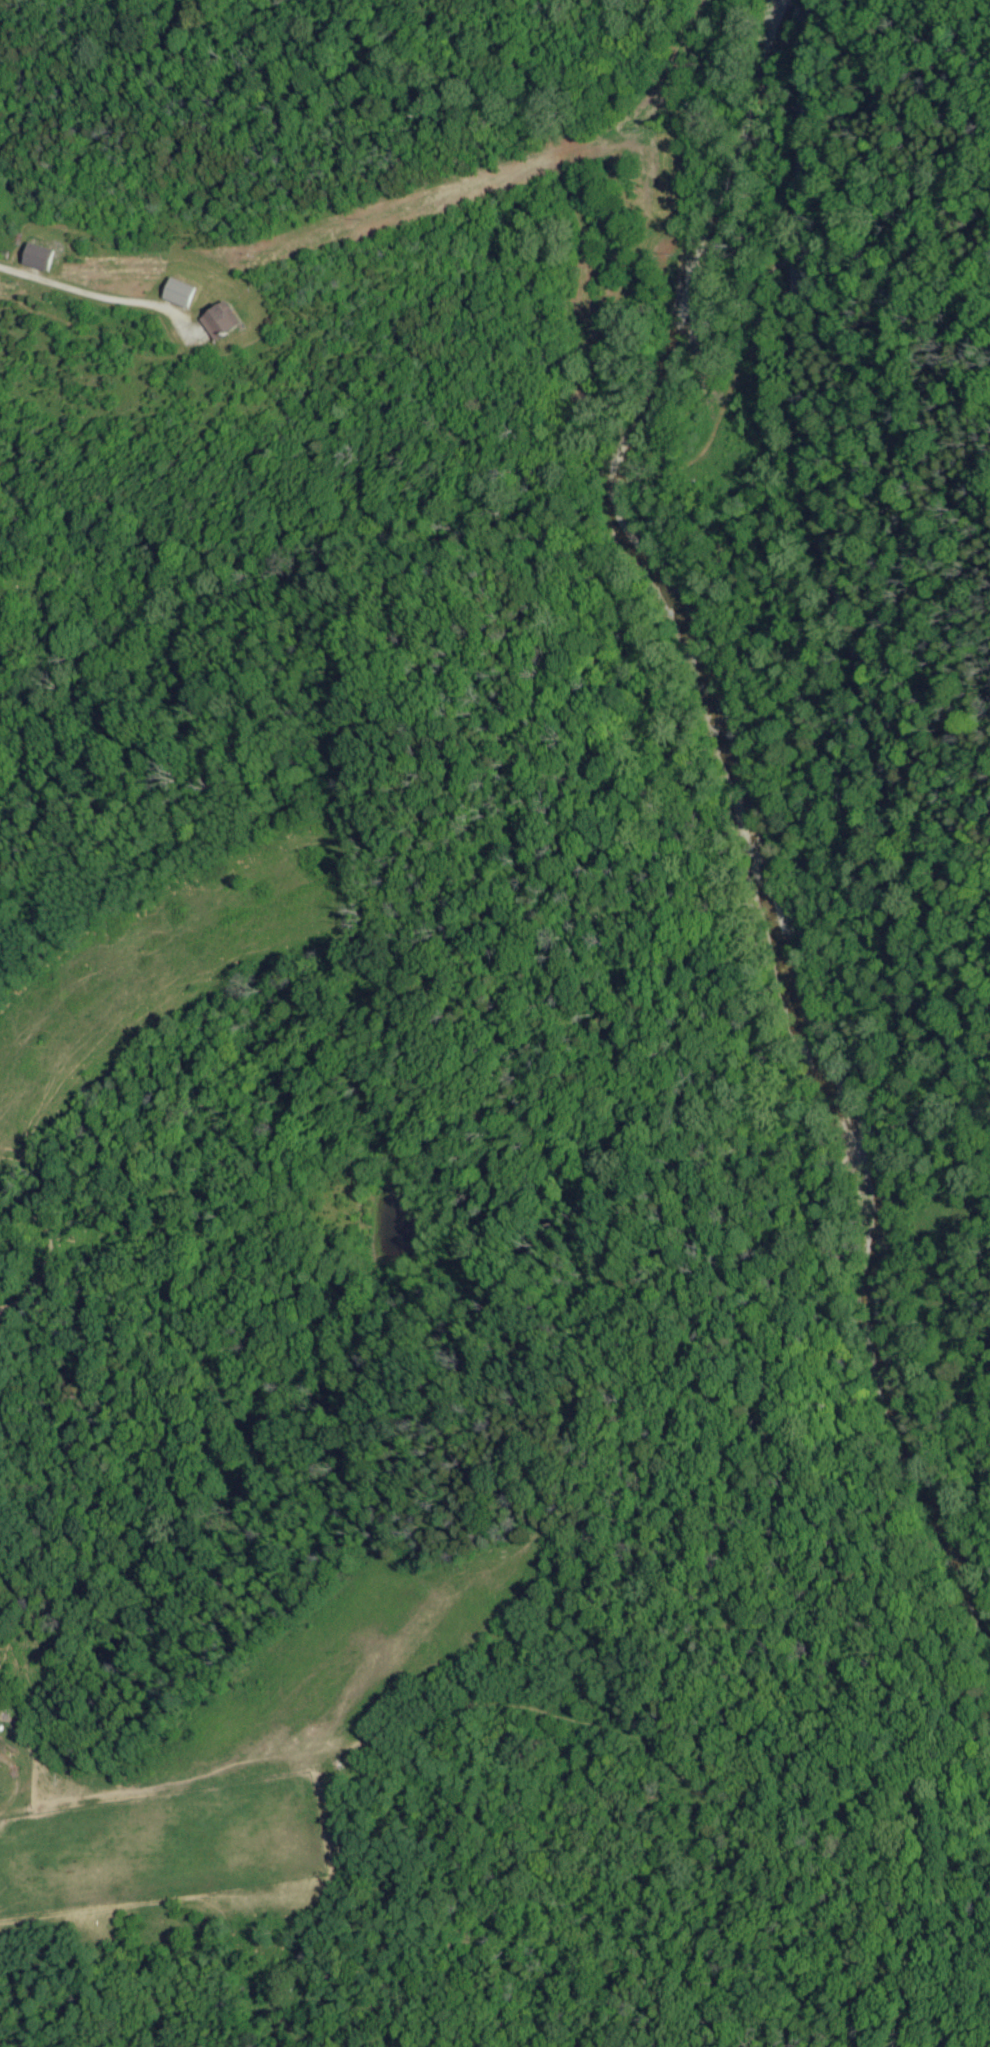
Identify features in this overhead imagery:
building: (40, 258)
building: (181, 293)
building: (222, 323)
road: (817, 533)

